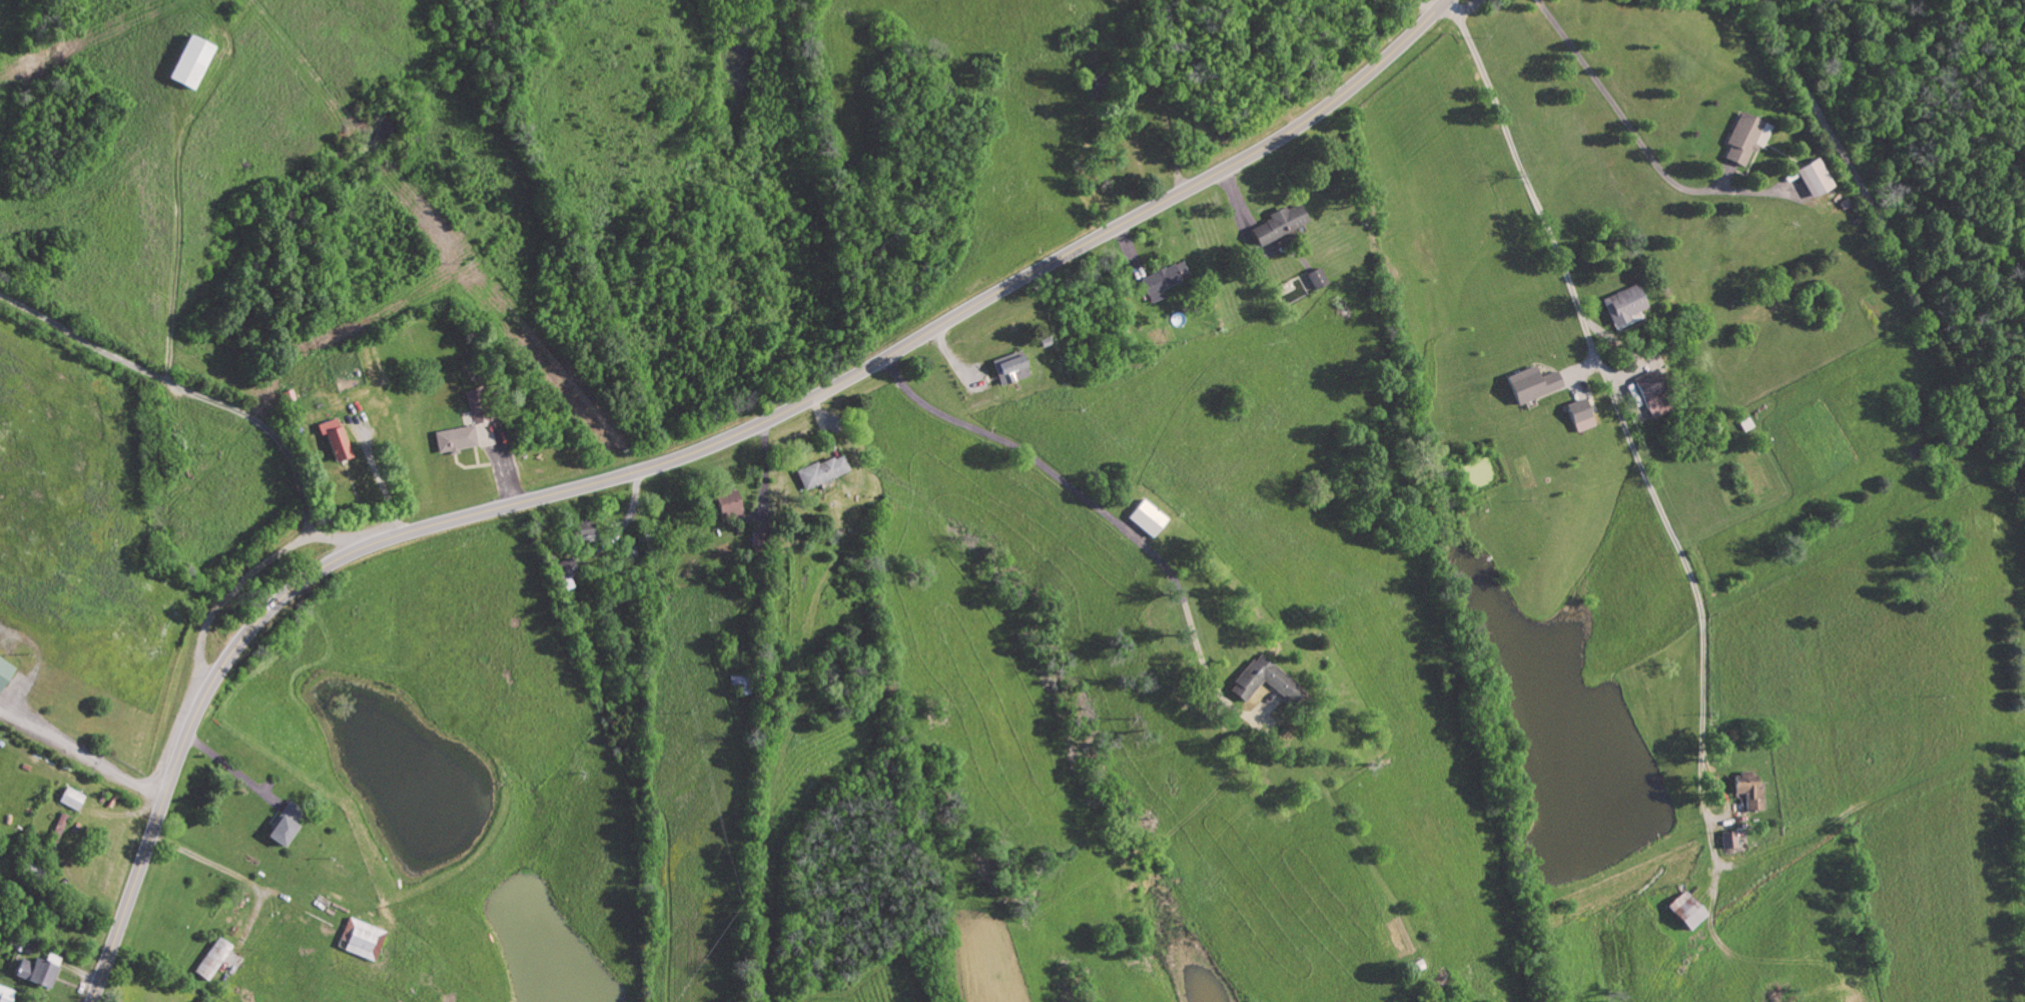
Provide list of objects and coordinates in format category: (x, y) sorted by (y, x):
road: (1460, 9)
building: (187, 64)
building: (1092, 85)
road: (1631, 130)
building: (1744, 140)
building: (1812, 179)
building: (1276, 225)
road: (181, 235)
road: (1891, 251)
building: (1315, 279)
building: (1162, 281)
building: (1623, 305)
building: (1008, 370)
road: (212, 384)
building: (1531, 386)
building: (1651, 396)
building: (475, 407)
building: (1578, 416)
road: (1626, 432)
building: (332, 440)
building: (452, 440)
road: (689, 452)
road: (1038, 464)
building: (820, 473)
building: (725, 505)
road: (630, 513)
building: (1146, 520)
building: (582, 529)
building: (564, 570)
building: (4, 673)
building: (1263, 683)
building: (739, 686)
road: (232, 771)
building: (1749, 792)
building: (70, 800)
building: (282, 825)
building: (56, 832)
building: (1728, 842)
road: (236, 875)
building: (1684, 913)
building: (359, 941)
building: (211, 961)
building: (37, 972)
building: (5, 995)

